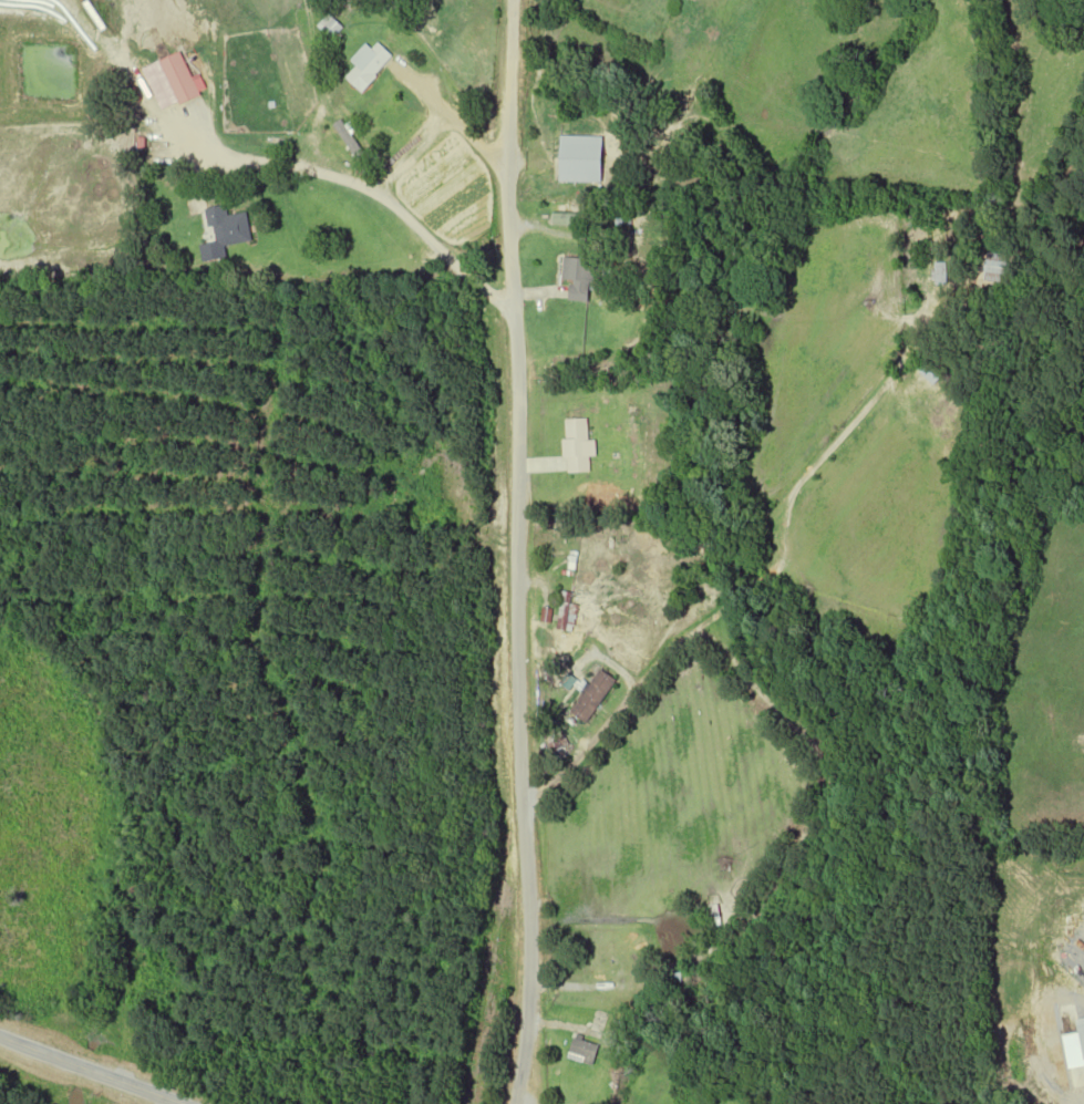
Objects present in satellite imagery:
building: (329, 27)
building: (367, 65)
building: (580, 158)
building: (566, 219)
building: (224, 231)
building: (999, 266)
building: (940, 274)
building: (580, 277)
building: (932, 372)
building: (577, 446)
road: (754, 549)
road: (517, 551)
building: (565, 611)
building: (592, 697)
building: (1082, 1031)
building: (584, 1051)
road: (86, 1071)

